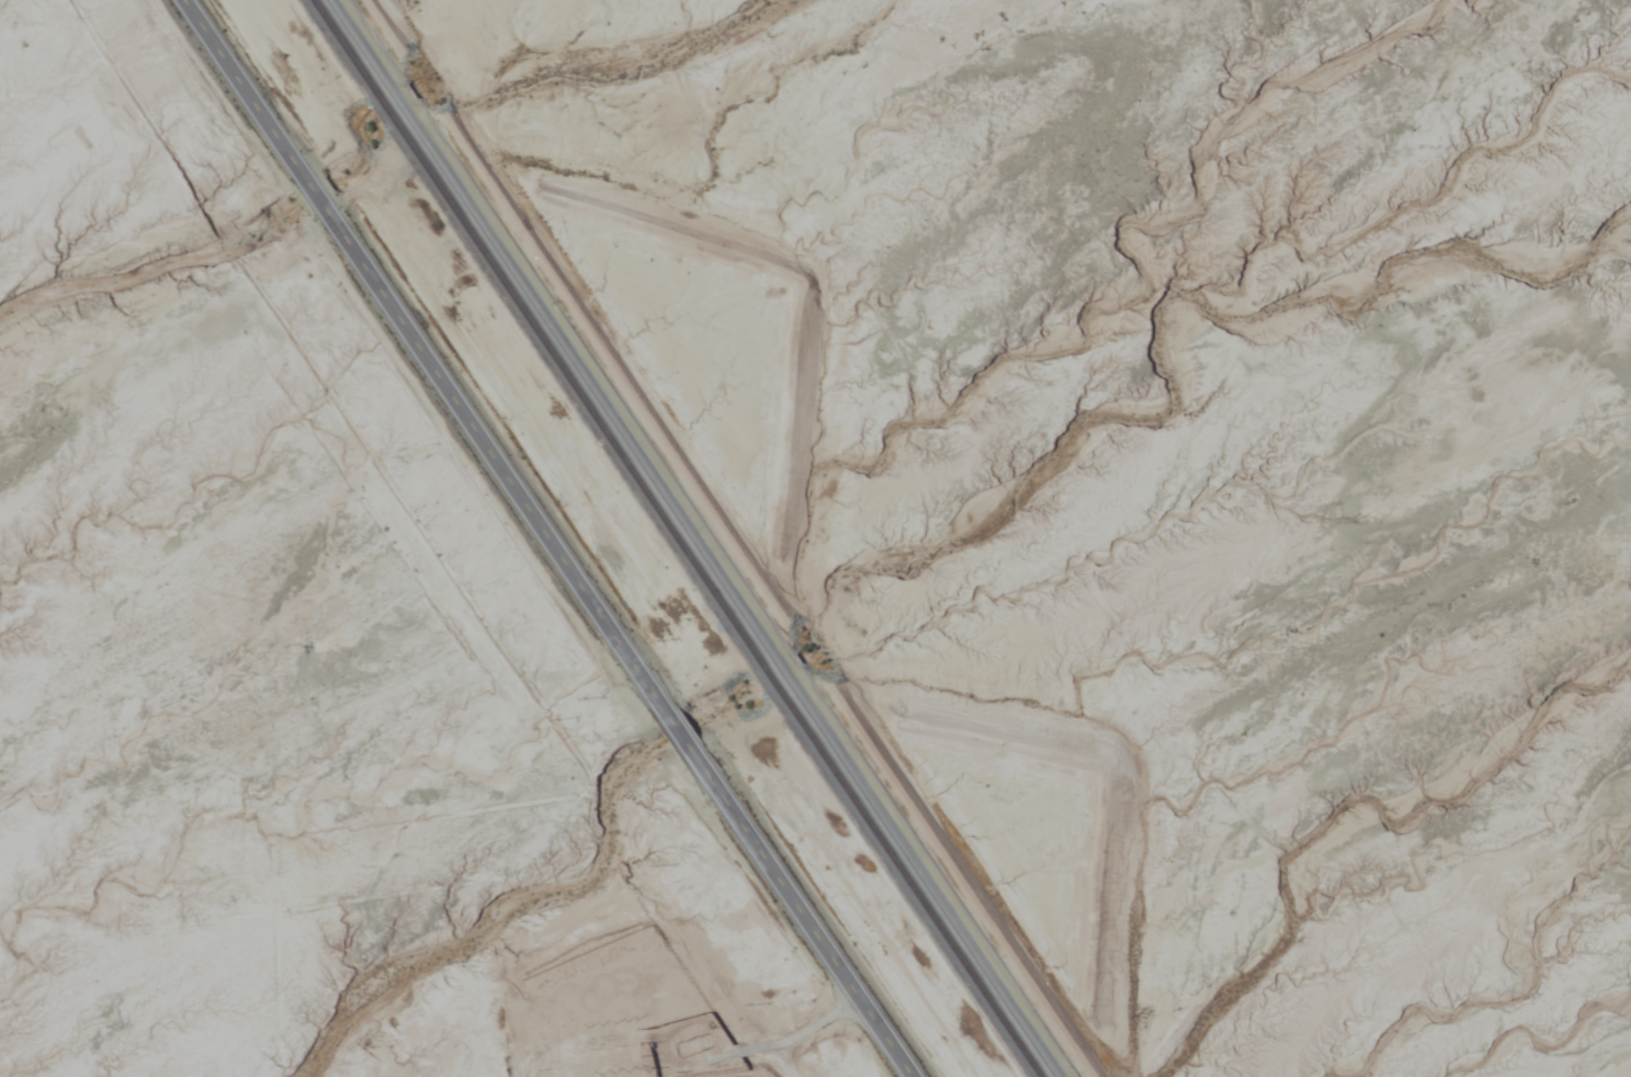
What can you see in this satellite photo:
railway: (702, 537)
road: (547, 538)
railway: (682, 538)
building: (696, 1045)

